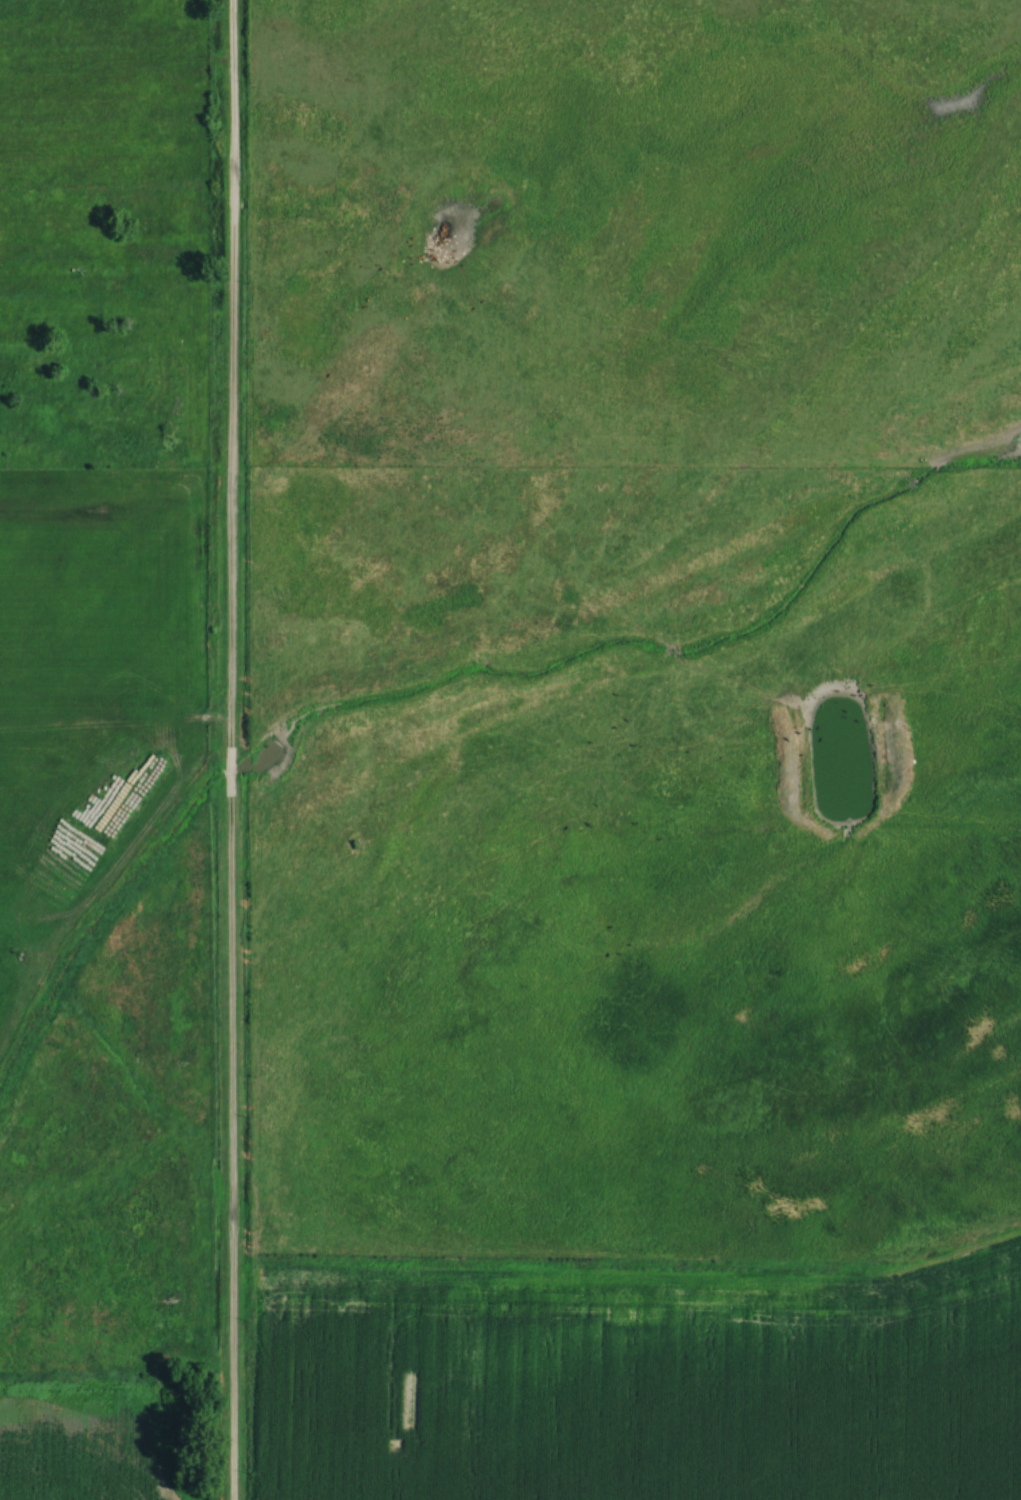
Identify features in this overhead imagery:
road: (227, 373)
river: (452, 673)
road: (228, 771)
road: (227, 1148)

